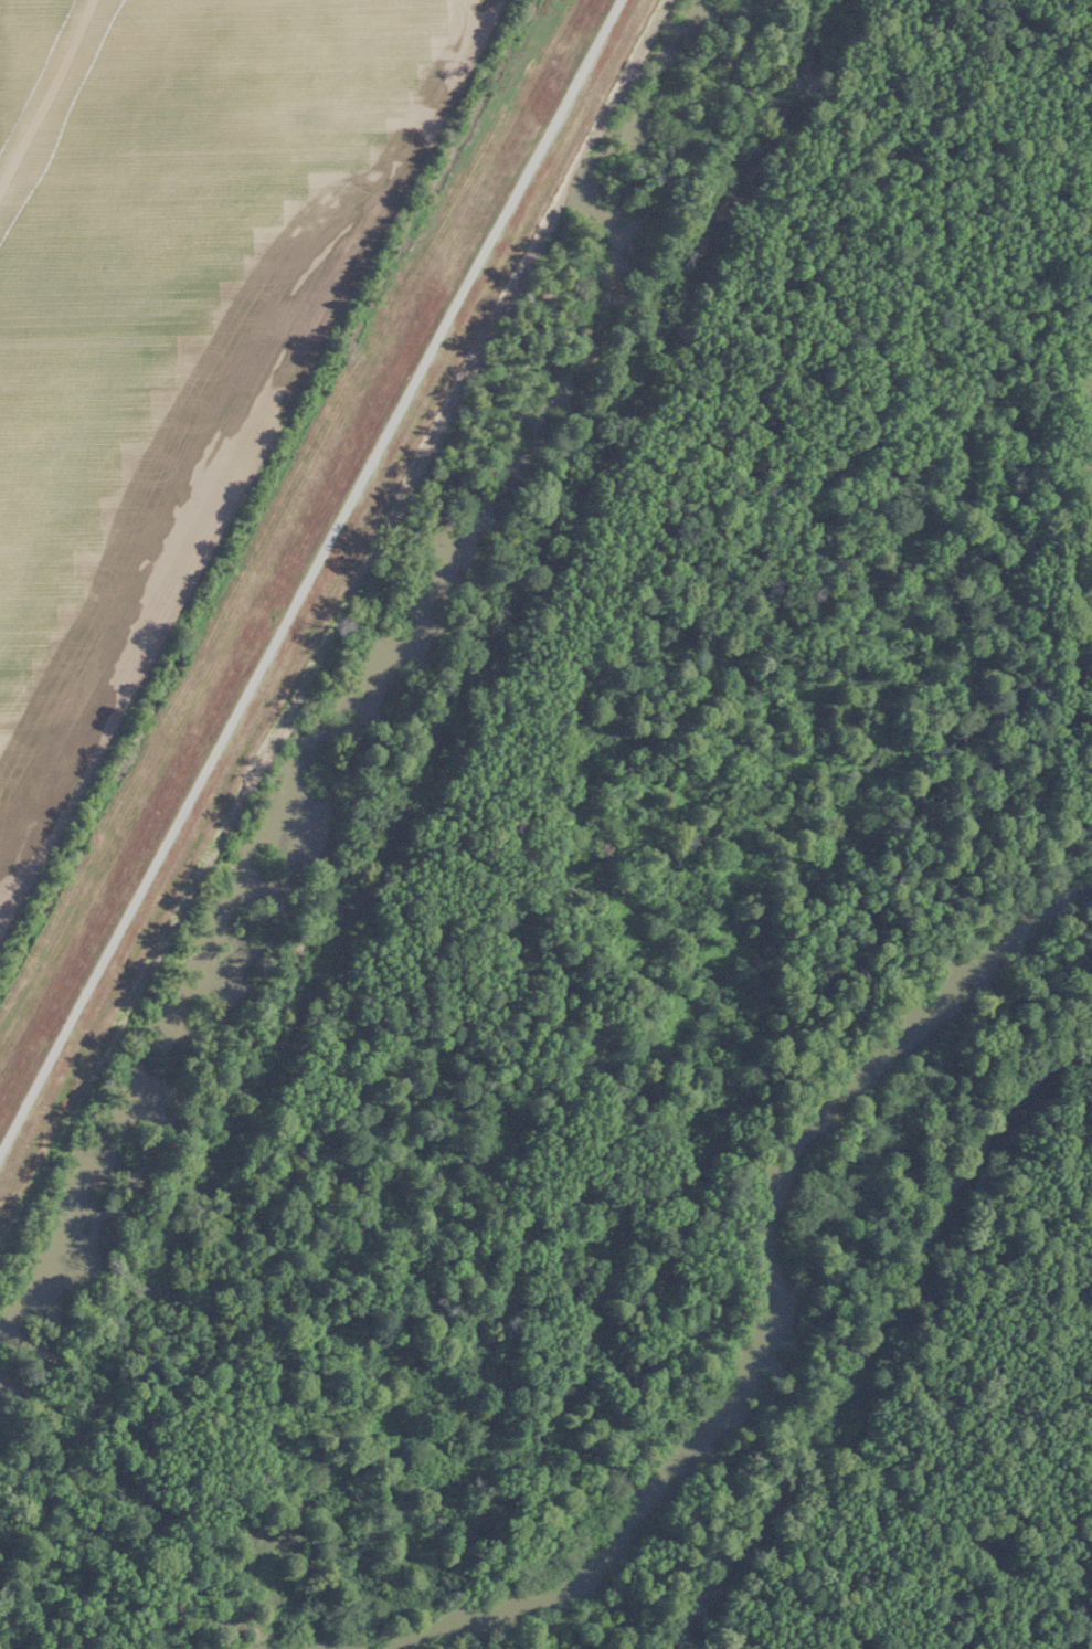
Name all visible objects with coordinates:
river: (1091, 456)
road: (310, 578)
river: (763, 1301)
river: (869, 1319)

